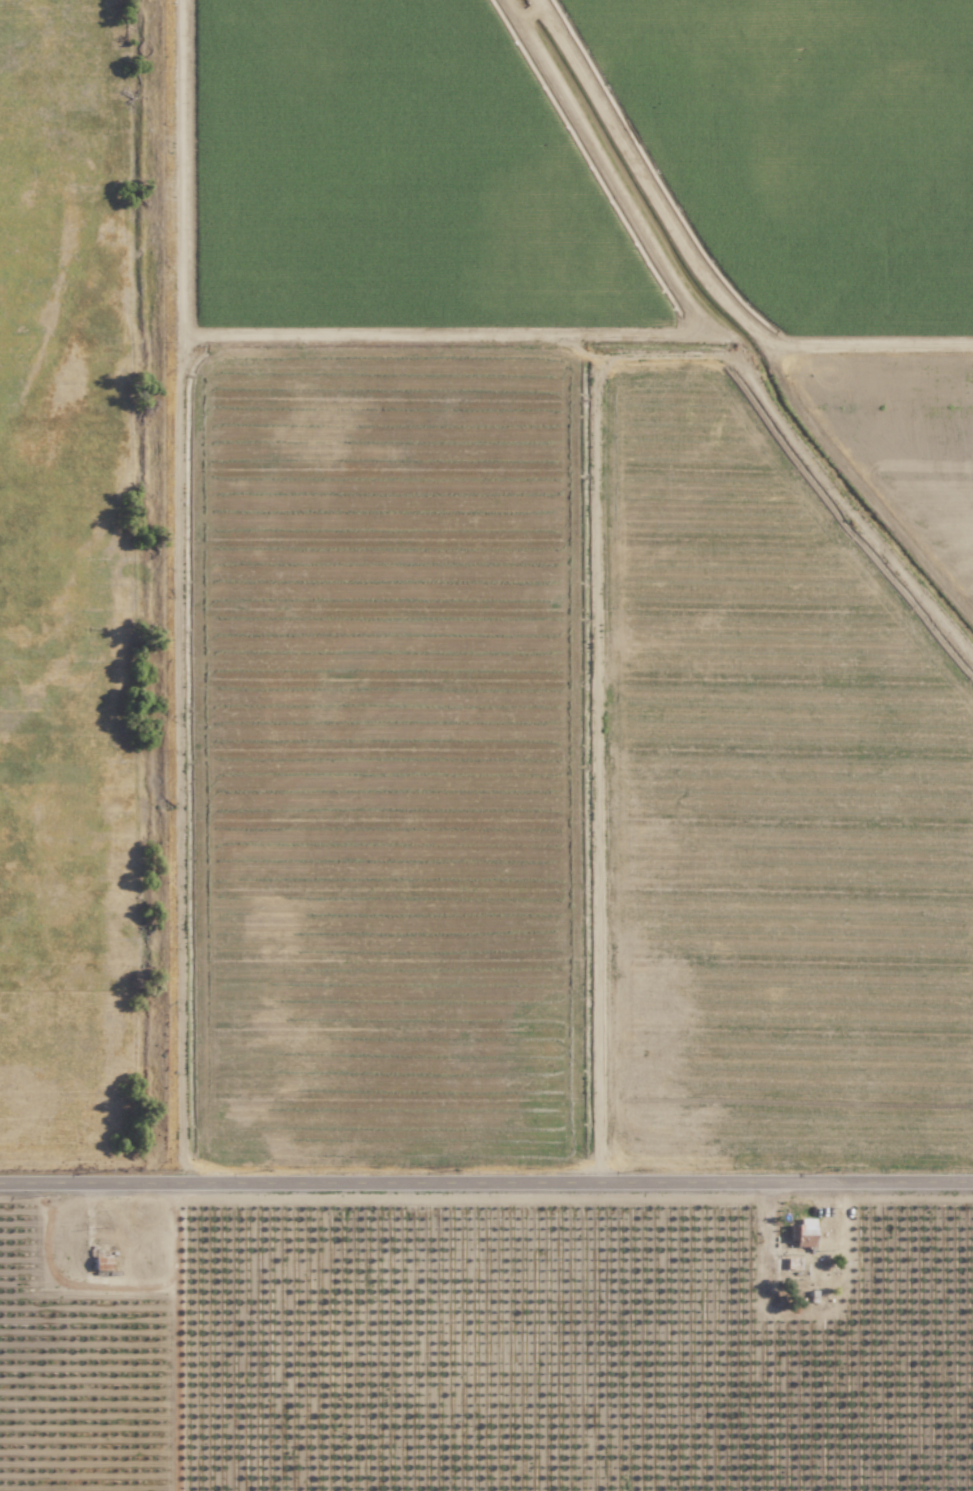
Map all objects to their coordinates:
road: (486, 1181)
building: (802, 1231)

